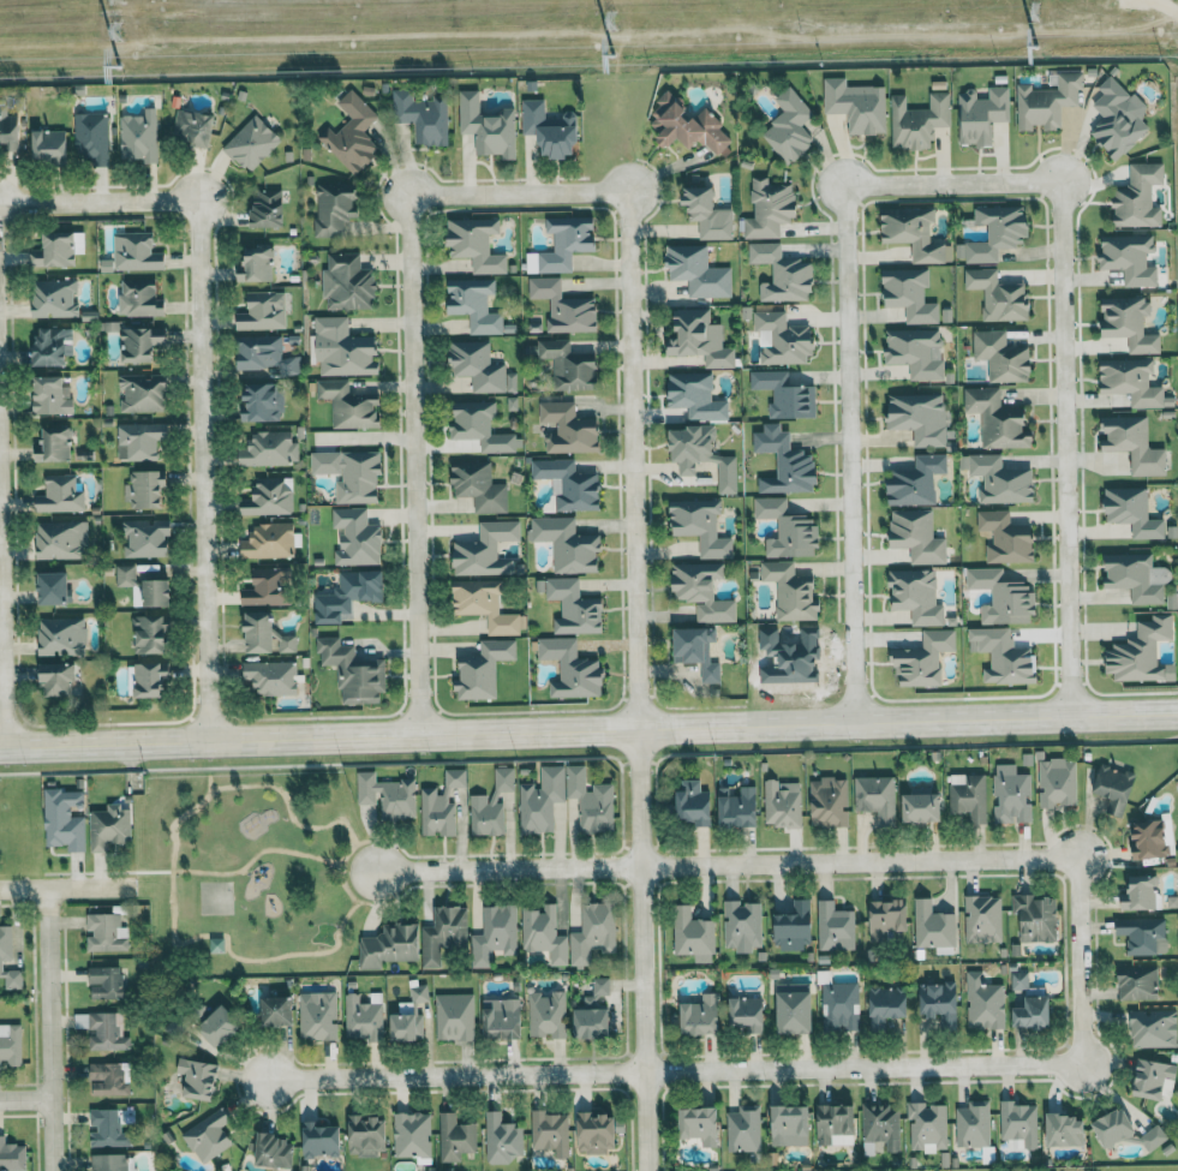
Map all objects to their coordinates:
power tower: (1035, 11)
power tower: (611, 19)
power tower: (116, 29)
power tower: (1035, 46)
power tower: (611, 54)
power tower: (116, 66)
building: (1047, 102)
building: (856, 104)
building: (981, 115)
building: (423, 116)
building: (1117, 116)
building: (919, 120)
building: (686, 125)
building: (488, 126)
building: (192, 127)
building: (789, 127)
building: (8, 129)
building: (550, 130)
building: (353, 133)
building: (139, 136)
building: (91, 137)
building: (251, 143)
building: (49, 144)
building: (1138, 196)
road: (40, 202)
building: (267, 208)
building: (335, 208)
building: (770, 209)
building: (708, 214)
building: (913, 233)
building: (476, 243)
building: (563, 244)
building: (54, 250)
building: (133, 253)
building: (1129, 258)
building: (257, 265)
building: (698, 271)
building: (782, 274)
building: (347, 282)
building: (910, 294)
building: (998, 295)
building: (54, 298)
building: (139, 298)
building: (474, 304)
building: (563, 306)
building: (263, 311)
building: (1129, 323)
building: (699, 337)
building: (783, 339)
building: (140, 343)
building: (53, 346)
building: (342, 348)
building: (916, 352)
building: (264, 356)
building: (1000, 356)
building: (569, 365)
building: (479, 368)
building: (1131, 381)
building: (142, 392)
building: (784, 395)
building: (50, 396)
building: (695, 396)
road: (1065, 399)
building: (263, 402)
road: (847, 402)
building: (348, 405)
road: (632, 408)
road: (202, 411)
road: (412, 411)
building: (919, 417)
building: (997, 419)
building: (479, 426)
building: (568, 429)
building: (139, 440)
building: (1134, 443)
building: (55, 444)
building: (269, 449)
building: (702, 455)
building: (785, 462)
building: (349, 473)
building: (916, 480)
building: (1001, 480)
building: (568, 484)
building: (479, 486)
building: (144, 490)
building: (60, 495)
building: (269, 497)
building: (1132, 512)
building: (700, 525)
building: (788, 530)
building: (917, 536)
building: (145, 537)
building: (355, 538)
building: (1006, 538)
building: (61, 540)
building: (269, 540)
building: (567, 544)
building: (485, 550)
building: (125, 575)
building: (1137, 576)
building: (268, 587)
building: (53, 589)
building: (701, 590)
building: (791, 591)
building: (154, 595)
building: (348, 595)
building: (916, 596)
building: (1003, 597)
building: (484, 605)
building: (574, 608)
building: (150, 634)
building: (61, 635)
building: (265, 635)
building: (698, 651)
building: (1142, 653)
building: (923, 659)
building: (572, 669)
building: (353, 671)
building: (271, 677)
building: (477, 677)
building: (150, 679)
building: (58, 680)
road: (588, 735)
building: (455, 777)
building: (1057, 781)
building: (1114, 787)
building: (1011, 793)
building: (387, 794)
building: (970, 796)
building: (877, 797)
building: (542, 799)
building: (591, 799)
building: (694, 801)
building: (829, 801)
building: (783, 802)
building: (492, 803)
building: (739, 806)
building: (922, 806)
building: (437, 812)
building: (64, 818)
building: (109, 825)
building: (1149, 837)
road: (179, 843)
road: (909, 860)
road: (251, 861)
road: (509, 868)
road: (246, 872)
park: (252, 872)
road: (65, 888)
building: (1141, 892)
park: (216, 897)
building: (1036, 915)
building: (887, 916)
building: (982, 918)
building: (742, 925)
building: (795, 925)
building: (933, 925)
building: (835, 926)
building: (104, 932)
building: (443, 932)
building: (593, 932)
building: (494, 933)
building: (544, 933)
building: (693, 933)
building: (1142, 933)
building: (216, 944)
building: (389, 945)
road: (641, 952)
building: (8, 958)
building: (1019, 980)
building: (104, 981)
building: (1138, 981)
building: (985, 1002)
building: (940, 1003)
building: (886, 1004)
building: (841, 1005)
building: (794, 1006)
building: (277, 1010)
building: (593, 1011)
building: (1033, 1011)
building: (546, 1012)
building: (747, 1012)
building: (701, 1014)
building: (318, 1015)
building: (364, 1015)
building: (409, 1015)
building: (454, 1016)
building: (502, 1017)
building: (219, 1026)
building: (1154, 1028)
road: (49, 1029)
building: (106, 1030)
building: (10, 1044)
road: (914, 1067)
road: (456, 1076)
building: (109, 1077)
building: (198, 1077)
building: (1155, 1079)
road: (25, 1101)
building: (700, 1123)
building: (836, 1123)
building: (973, 1123)
building: (1019, 1123)
building: (790, 1124)
building: (881, 1124)
building: (927, 1125)
building: (1113, 1127)
building: (107, 1128)
building: (745, 1128)
building: (1065, 1129)
building: (550, 1130)
building: (598, 1130)
building: (366, 1135)
building: (208, 1136)
building: (455, 1136)
building: (1153, 1136)
building: (502, 1139)
building: (321, 1140)
building: (274, 1149)
building: (12, 1155)
building: (108, 1161)

